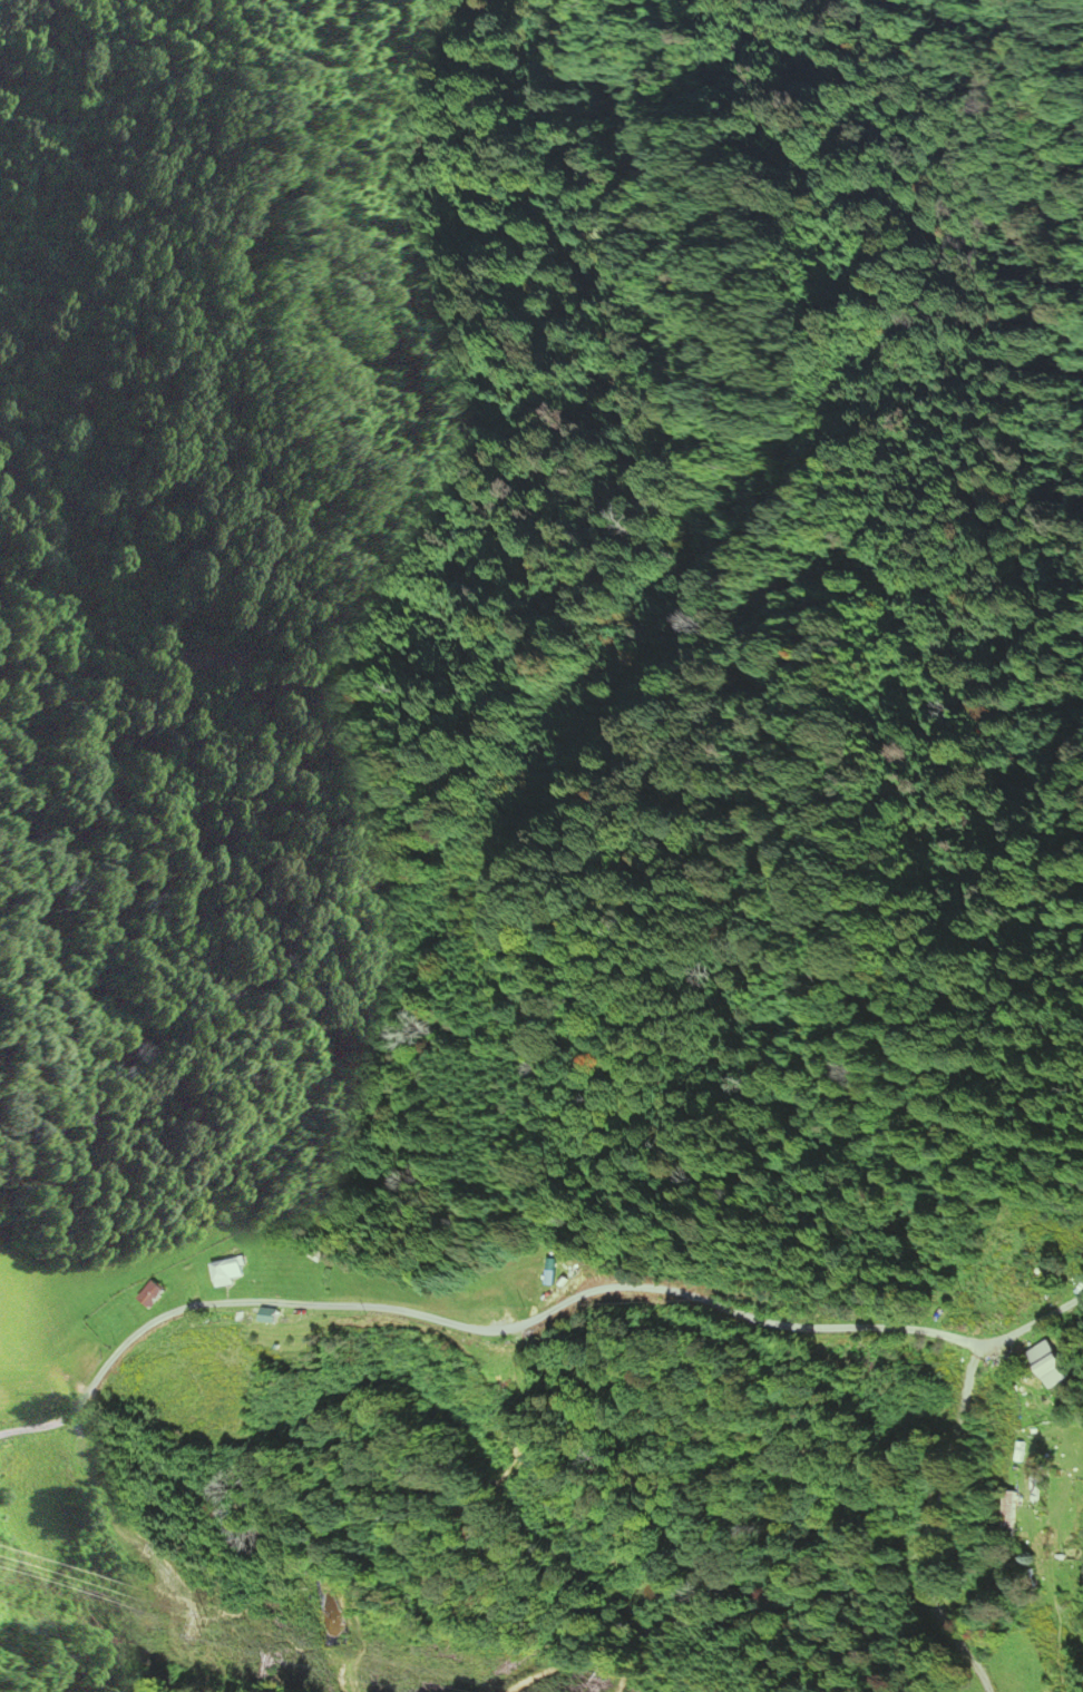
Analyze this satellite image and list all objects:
building: (226, 1271)
building: (152, 1294)
building: (272, 1316)
road: (520, 1326)
road: (997, 1341)
building: (1051, 1363)
building: (1011, 1516)

